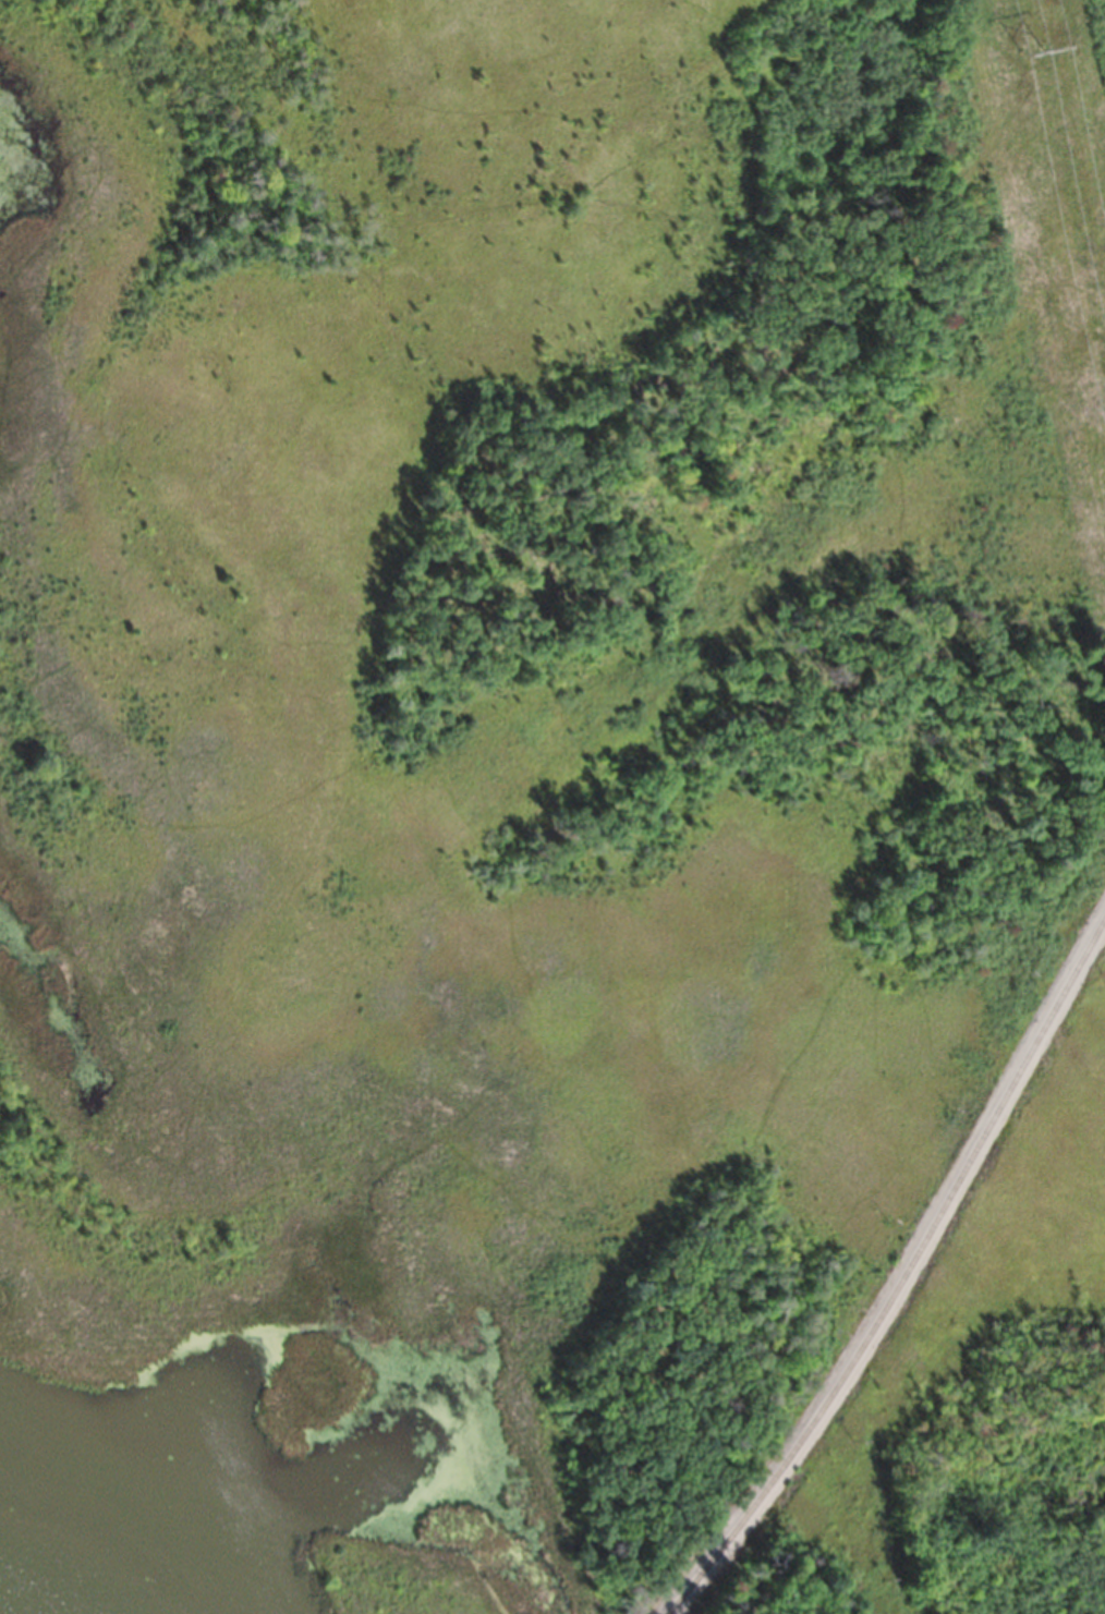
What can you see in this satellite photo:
power tower: (1031, 49)
railway: (901, 1277)

